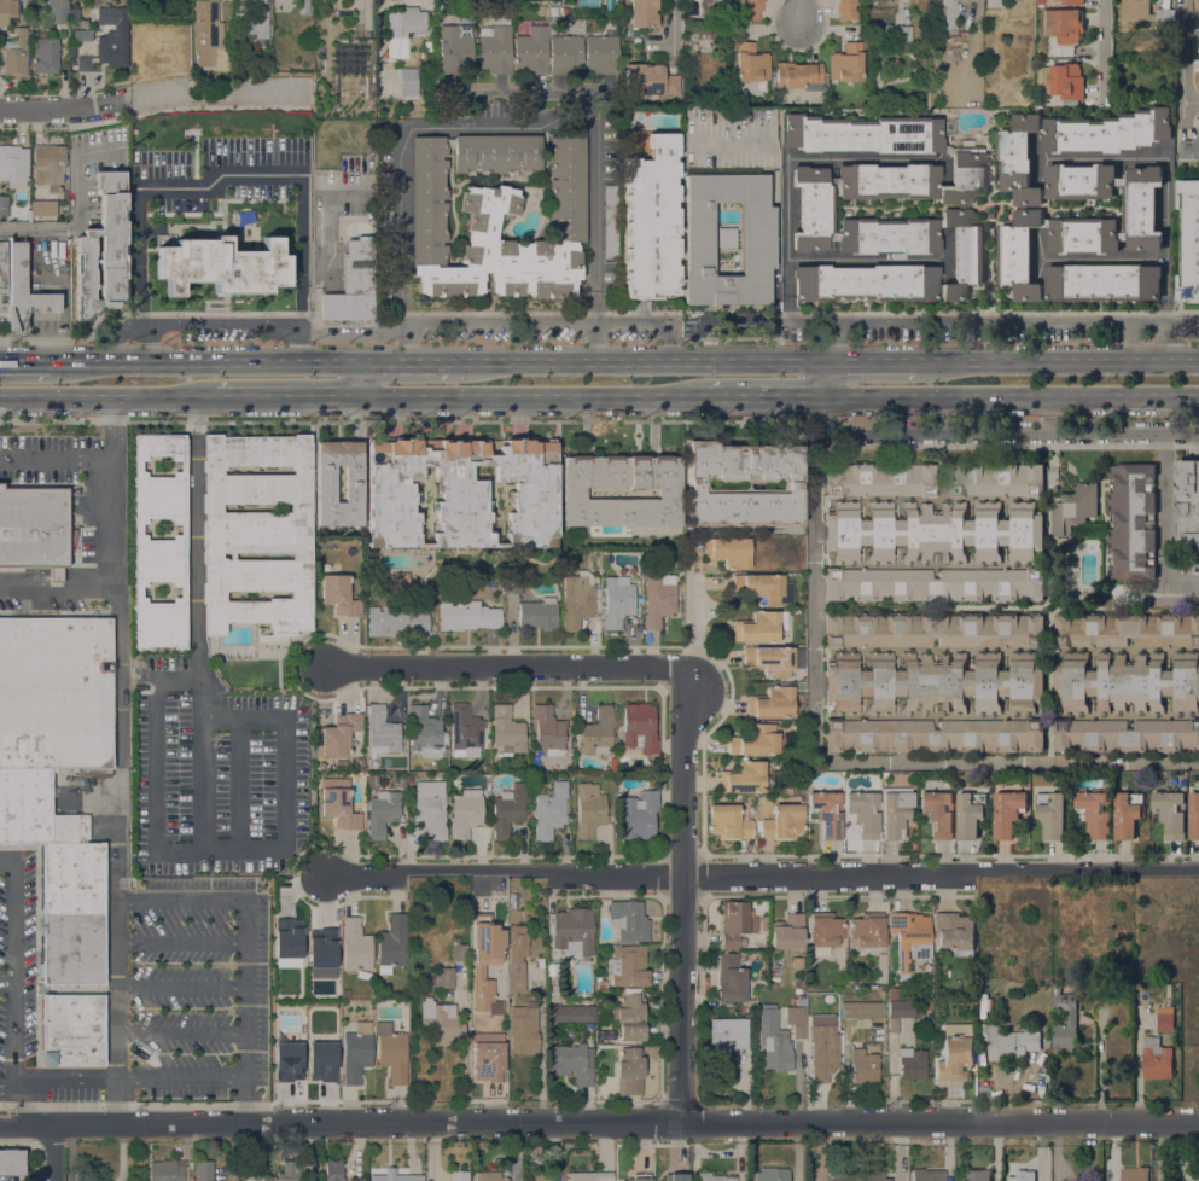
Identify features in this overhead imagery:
building: (258, 1)
building: (716, 2)
building: (1071, 2)
building: (994, 4)
road: (378, 5)
building: (1197, 5)
building: (304, 7)
building: (7, 10)
building: (542, 10)
building: (751, 10)
building: (846, 10)
building: (60, 11)
road: (798, 11)
building: (563, 12)
building: (644, 13)
building: (949, 13)
building: (1147, 13)
building: (251, 23)
building: (1063, 25)
building: (404, 27)
road: (670, 29)
building: (903, 34)
building: (209, 35)
building: (1194, 37)
building: (109, 40)
building: (429, 46)
building: (71, 51)
building: (525, 51)
road: (1102, 53)
building: (16, 56)
building: (45, 56)
building: (687, 59)
road: (1181, 60)
building: (751, 63)
building: (846, 63)
building: (799, 75)
building: (648, 80)
building: (408, 81)
building: (1064, 82)
building: (1198, 85)
road: (156, 97)
building: (1038, 104)
road: (502, 126)
building: (863, 134)
building: (1073, 141)
building: (449, 142)
building: (948, 149)
building: (1189, 149)
building: (497, 153)
road: (786, 161)
road: (1166, 162)
building: (48, 164)
building: (13, 165)
building: (916, 179)
building: (832, 181)
building: (1079, 181)
building: (1118, 181)
road: (151, 187)
building: (1044, 193)
building: (4, 205)
building: (50, 208)
building: (1141, 208)
building: (385, 209)
building: (369, 214)
road: (776, 216)
building: (566, 217)
building: (652, 221)
building: (611, 222)
building: (1047, 222)
road: (30, 228)
building: (886, 233)
building: (1084, 234)
building: (1123, 235)
building: (727, 237)
building: (757, 237)
building: (1189, 239)
building: (103, 250)
road: (866, 258)
road: (1102, 258)
building: (222, 266)
building: (2, 267)
building: (1069, 270)
building: (866, 283)
building: (353, 284)
building: (23, 290)
road: (1165, 310)
road: (931, 319)
road: (402, 331)
road: (50, 336)
road: (1175, 338)
road: (1151, 341)
road: (296, 347)
road: (205, 359)
road: (25, 361)
road: (406, 361)
road: (634, 362)
road: (868, 362)
road: (1060, 362)
road: (360, 378)
road: (815, 379)
road: (287, 395)
road: (534, 395)
road: (761, 395)
road: (1006, 395)
road: (107, 396)
road: (1048, 413)
road: (1178, 430)
road: (986, 431)
road: (56, 459)
building: (878, 479)
building: (997, 479)
building: (325, 483)
building: (695, 483)
building: (461, 491)
building: (574, 493)
building: (1187, 501)
road: (1163, 506)
building: (1075, 508)
building: (1131, 522)
building: (34, 529)
building: (933, 531)
building: (257, 533)
building: (159, 543)
building: (728, 552)
building: (563, 568)
road: (814, 577)
building: (400, 578)
road: (1182, 581)
building: (514, 584)
building: (936, 584)
building: (764, 588)
road: (59, 589)
building: (1067, 589)
building: (424, 590)
building: (339, 595)
building: (577, 599)
building: (659, 599)
building: (618, 600)
building: (539, 613)
building: (467, 616)
building: (797, 618)
road: (199, 621)
building: (395, 621)
road: (118, 623)
building: (761, 627)
building: (933, 629)
building: (1127, 629)
building: (770, 661)
road: (505, 667)
building: (933, 682)
building: (1128, 682)
building: (799, 686)
building: (54, 692)
building: (772, 703)
building: (640, 727)
building: (507, 729)
building: (383, 731)
building: (424, 731)
building: (465, 731)
building: (548, 731)
building: (599, 732)
building: (339, 735)
building: (933, 735)
building: (1127, 735)
building: (755, 740)
road: (1006, 758)
building: (359, 761)
road: (153, 763)
building: (402, 767)
building: (94, 772)
building: (913, 775)
building: (744, 778)
road: (287, 779)
building: (402, 779)
building: (409, 779)
building: (1157, 780)
building: (371, 781)
building: (778, 785)
building: (787, 790)
building: (339, 808)
building: (31, 809)
building: (431, 809)
building: (508, 809)
building: (589, 809)
building: (551, 810)
building: (895, 810)
building: (1007, 811)
building: (383, 813)
building: (466, 813)
building: (827, 813)
building: (865, 813)
building: (938, 813)
building: (1095, 813)
building: (1170, 813)
building: (640, 815)
building: (968, 816)
building: (1052, 816)
building: (1125, 816)
building: (1194, 816)
building: (728, 822)
building: (782, 822)
building: (81, 827)
road: (761, 874)
building: (71, 877)
road: (680, 894)
road: (13, 914)
building: (629, 920)
building: (735, 923)
building: (868, 930)
building: (574, 931)
building: (787, 931)
building: (825, 932)
building: (955, 932)
road: (182, 935)
building: (909, 939)
building: (287, 942)
building: (355, 944)
building: (392, 944)
building: (71, 948)
road: (245, 949)
building: (321, 953)
building: (460, 953)
building: (517, 959)
building: (485, 962)
building: (629, 966)
building: (442, 978)
building: (731, 978)
road: (6, 979)
building: (852, 979)
building: (884, 979)
building: (599, 982)
road: (117, 987)
road: (181, 987)
building: (883, 988)
building: (52, 989)
building: (345, 993)
building: (801, 1000)
building: (927, 1006)
building: (741, 1010)
building: (862, 1010)
building: (571, 1013)
building: (898, 1013)
building: (629, 1016)
building: (1164, 1018)
building: (822, 1019)
building: (441, 1020)
building: (796, 1020)
building: (1071, 1020)
building: (589, 1025)
building: (71, 1029)
building: (524, 1029)
road: (181, 1031)
road: (13, 1032)
building: (727, 1036)
building: (774, 1041)
building: (997, 1042)
building: (1025, 1042)
building: (356, 1052)
building: (391, 1052)
building: (823, 1052)
building: (954, 1053)
building: (488, 1057)
building: (1156, 1059)
building: (287, 1061)
building: (321, 1061)
building: (572, 1063)
building: (912, 1064)
building: (863, 1066)
building: (630, 1071)
road: (128, 1078)
road: (6, 1087)
road: (13, 1106)
road: (599, 1123)
road: (53, 1152)
building: (12, 1162)
building: (203, 1170)
building: (333, 1170)
building: (165, 1171)
building: (287, 1171)
building: (772, 1174)
building: (1134, 1174)
building: (459, 1175)
building: (539, 1175)
building: (871, 1175)
building: (927, 1175)
building: (974, 1175)
building: (395, 1176)
building: (488, 1176)
building: (589, 1176)
building: (676, 1177)
building: (712, 1177)
building: (641, 1179)
building: (1012, 1179)
building: (633, 1180)

